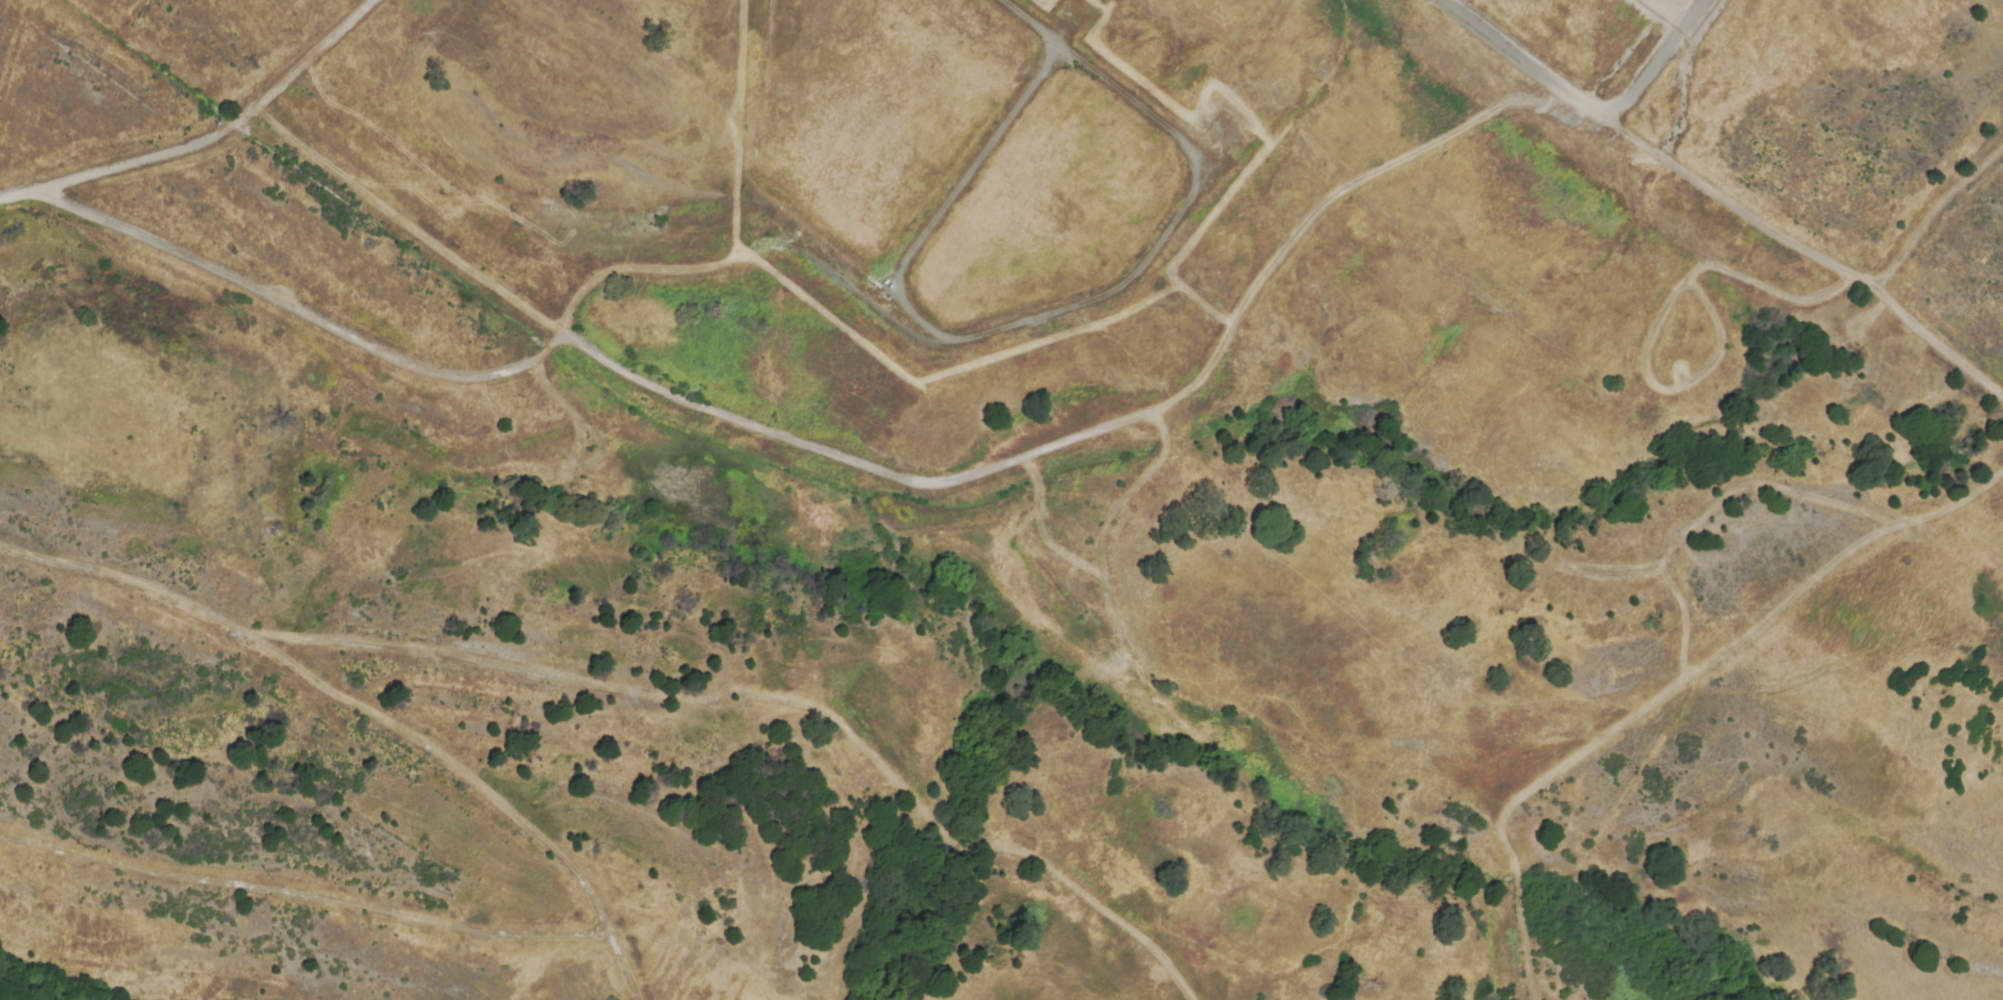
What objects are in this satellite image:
road: (1584, 99)
road: (740, 128)
road: (207, 143)
road: (962, 173)
road: (1934, 216)
road: (1303, 220)
road: (755, 246)
road: (1811, 248)
road: (1770, 290)
road: (1673, 389)
road: (1711, 509)
road: (1670, 688)
road: (335, 696)
road: (1012, 782)
road: (299, 897)
road: (1118, 920)
road: (619, 970)

